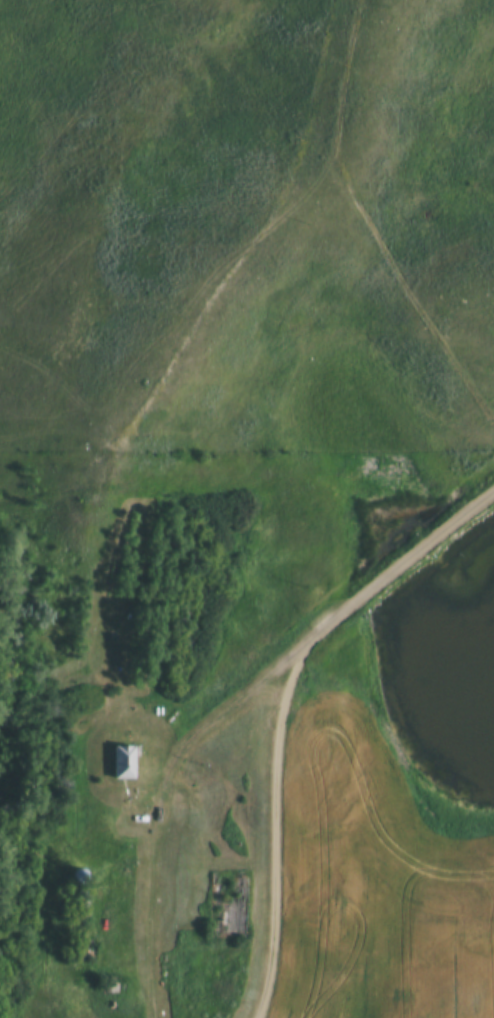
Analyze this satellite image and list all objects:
road: (282, 709)
building: (120, 765)
road: (166, 794)

